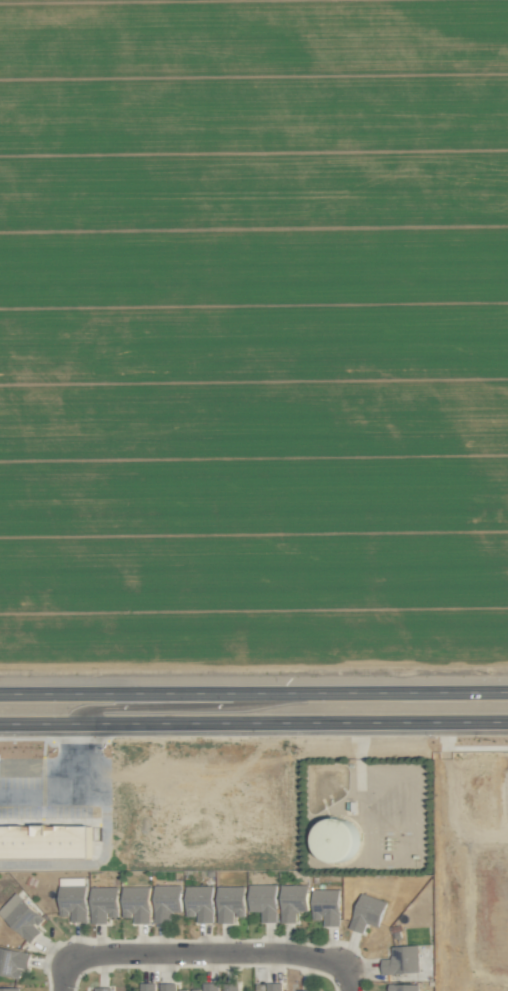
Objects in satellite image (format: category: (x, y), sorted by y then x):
road: (253, 692)
road: (253, 721)
road: (56, 774)
building: (334, 837)
building: (72, 897)
building: (165, 900)
building: (263, 900)
building: (292, 900)
building: (135, 902)
building: (198, 902)
building: (229, 902)
building: (102, 903)
building: (325, 905)
building: (366, 911)
building: (21, 916)
road: (201, 952)
building: (401, 959)
building: (147, 986)
building: (229, 986)
building: (273, 986)
building: (169, 987)
building: (207, 987)
building: (402, 987)
building: (9, 988)
building: (102, 988)
building: (306, 990)

